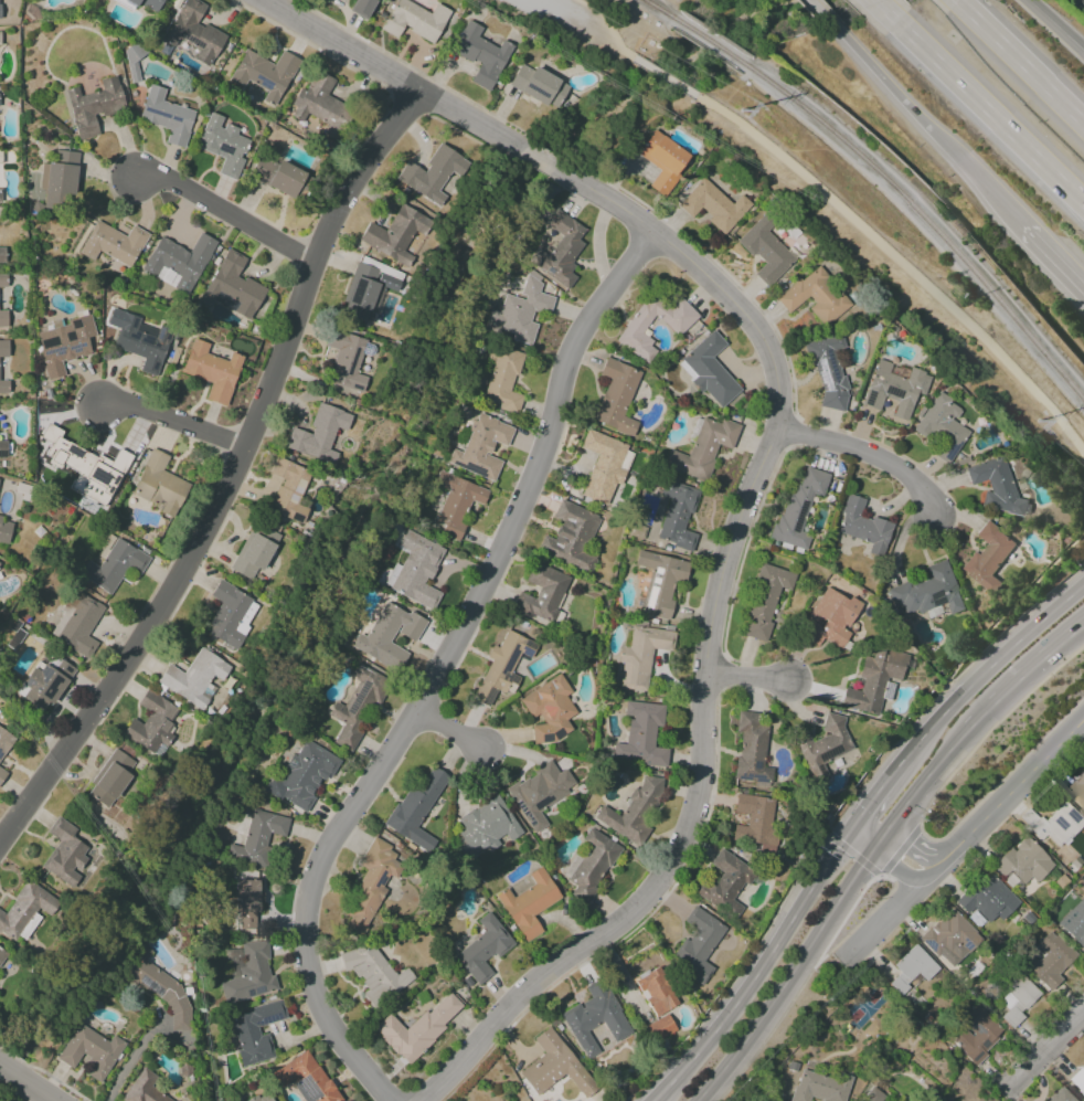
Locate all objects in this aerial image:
road: (874, 1)
building: (147, 3)
building: (362, 8)
railway: (659, 9)
road: (818, 9)
parking lot: (544, 10)
park: (747, 18)
building: (414, 20)
road: (607, 23)
road: (1055, 25)
building: (194, 32)
railway: (712, 40)
building: (480, 54)
building: (132, 61)
road: (1020, 61)
building: (265, 73)
road: (663, 75)
road: (391, 77)
rooftop solar panel: (262, 84)
building: (538, 85)
road: (980, 103)
building: (321, 105)
building: (93, 106)
power tower: (736, 109)
rooftop solar panel: (146, 110)
rooftop solar panel: (158, 114)
building: (166, 116)
rooftop solar panel: (176, 119)
road: (923, 123)
building: (223, 145)
road: (539, 159)
building: (663, 161)
building: (59, 173)
building: (431, 174)
building: (278, 177)
building: (713, 205)
road: (230, 214)
railway: (927, 219)
building: (395, 234)
building: (113, 243)
building: (560, 250)
building: (765, 250)
building: (1, 254)
road: (1052, 260)
building: (178, 262)
road: (900, 262)
road: (704, 274)
building: (2, 279)
building: (232, 287)
building: (366, 292)
building: (815, 296)
building: (519, 311)
rooftop solar panel: (507, 314)
building: (2, 318)
building: (677, 326)
rooftop solar panel: (511, 327)
rooftop solar panel: (509, 335)
building: (139, 340)
building: (64, 342)
building: (3, 348)
rooftop solar panel: (77, 349)
rooftop solar panel: (57, 351)
building: (346, 361)
rooftop solar panel: (830, 366)
building: (709, 370)
building: (212, 371)
building: (828, 371)
rooftop solar panel: (820, 373)
rooftop solar panel: (893, 373)
building: (503, 378)
building: (3, 387)
building: (894, 389)
rooftop solar panel: (894, 392)
building: (616, 396)
rooftop solar panel: (869, 401)
road: (176, 420)
power tower: (1040, 421)
building: (942, 425)
building: (318, 434)
building: (481, 447)
building: (703, 447)
building: (2, 448)
rooftop solar panel: (949, 452)
road: (868, 457)
building: (85, 466)
building: (605, 466)
rooftop solar panel: (475, 469)
road: (227, 480)
building: (159, 485)
building: (995, 485)
building: (288, 489)
rooftop solar panel: (298, 490)
rooftop solar panel: (291, 498)
building: (456, 502)
building: (798, 507)
building: (677, 515)
building: (0, 516)
rooftop solar panel: (801, 516)
building: (863, 526)
building: (4, 532)
building: (571, 537)
building: (254, 551)
building: (990, 557)
building: (114, 565)
road: (1077, 567)
building: (417, 570)
rooftop solar panel: (657, 572)
rooftop solar panel: (655, 582)
building: (660, 582)
building: (928, 591)
building: (542, 593)
rooftop solar panel: (650, 595)
rooftop solar panel: (934, 599)
building: (765, 600)
road: (1011, 605)
building: (230, 614)
building: (829, 618)
building: (77, 624)
building: (387, 635)
building: (641, 655)
rooftop solar panel: (509, 659)
building: (502, 667)
road: (440, 668)
road: (986, 669)
rooftop solar panel: (43, 673)
rooftop solar panel: (625, 674)
road: (1020, 676)
building: (194, 677)
road: (751, 677)
rooftop solar panel: (25, 680)
building: (44, 681)
building: (874, 681)
rooftop solar panel: (890, 692)
road: (938, 695)
building: (354, 706)
building: (549, 710)
building: (151, 723)
road: (991, 727)
building: (640, 734)
road: (454, 737)
building: (4, 741)
building: (822, 747)
building: (751, 749)
rooftop solar panel: (828, 752)
rooftop solar panel: (756, 764)
building: (1, 774)
rooftop solar panel: (753, 775)
building: (301, 776)
road: (1002, 777)
building: (111, 779)
road: (920, 785)
road: (1013, 790)
road: (876, 792)
building: (539, 793)
building: (1077, 793)
building: (414, 804)
building: (633, 811)
traffic signals: (857, 816)
rooftop solar panel: (1073, 816)
road: (694, 819)
building: (755, 819)
road: (851, 824)
building: (1054, 824)
rooftop solar panel: (1061, 824)
rooftop solar panel: (1038, 825)
building: (485, 826)
road: (868, 826)
traffic signals: (846, 833)
building: (258, 837)
traffic signals: (880, 837)
road: (857, 843)
road: (874, 845)
road: (899, 850)
traffic signals: (869, 853)
road: (910, 853)
road: (851, 854)
building: (66, 855)
building: (1022, 862)
building: (591, 864)
road: (891, 867)
road: (931, 869)
rooftop solar panel: (382, 877)
building: (370, 883)
building: (725, 883)
building: (988, 900)
building: (529, 903)
building: (247, 904)
building: (26, 911)
road: (880, 914)
road: (863, 917)
building: (1074, 922)
building: (950, 938)
building: (698, 944)
rooftop solar panel: (928, 945)
rooftop solar panel: (967, 945)
building: (483, 949)
building: (1, 953)
building: (1049, 960)
building: (912, 968)
road: (757, 972)
building: (373, 973)
building: (248, 975)
road: (735, 975)
road: (787, 980)
rooftop solar panel: (151, 985)
building: (159, 987)
road: (798, 988)
rooftop solar panel: (257, 991)
building: (656, 991)
rooftop solar panel: (247, 993)
building: (1017, 998)
park: (865, 1006)
building: (595, 1017)
rooftop solar panel: (268, 1019)
building: (417, 1028)
building: (659, 1028)
building: (254, 1031)
rooftop solar panel: (980, 1031)
building: (977, 1035)
building: (605, 1042)
road: (1044, 1049)
building: (91, 1051)
road: (131, 1060)
building: (554, 1066)
building: (305, 1078)
road: (31, 1080)
building: (1077, 1080)
building: (820, 1084)
rooftop solar panel: (308, 1086)
building: (144, 1088)
road: (18, 1089)
building: (873, 1095)
building: (263, 1097)
building: (1062, 1097)

